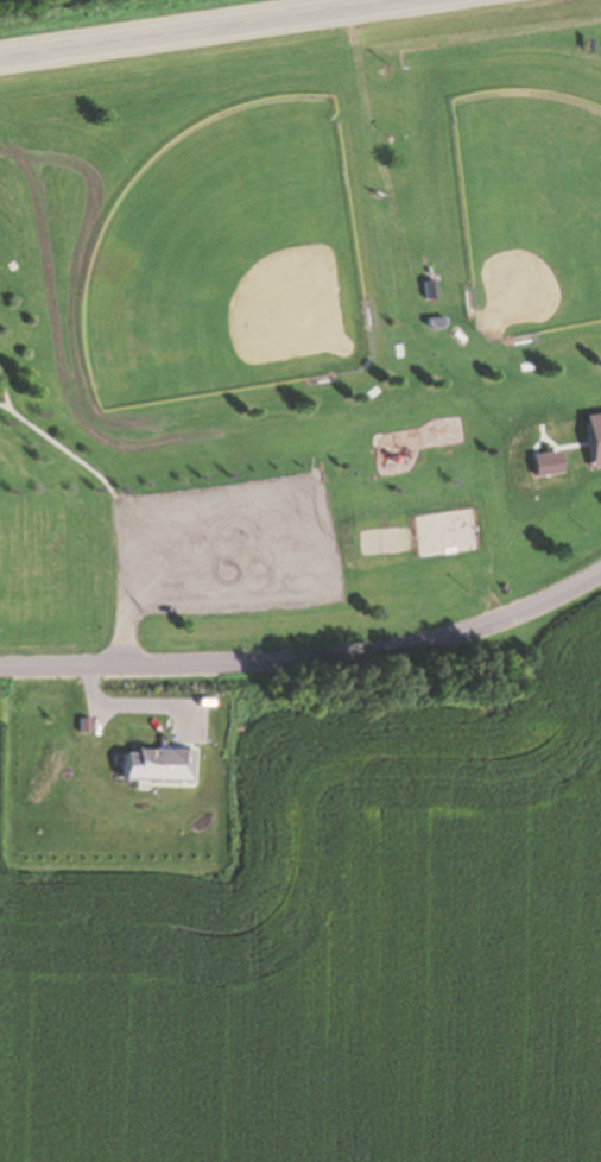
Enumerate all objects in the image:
road: (195, 27)
park: (514, 210)
park: (243, 273)
building: (425, 284)
building: (430, 322)
park: (300, 333)
road: (61, 447)
road: (279, 494)
road: (480, 516)
building: (442, 532)
parking lot: (223, 550)
road: (308, 658)

